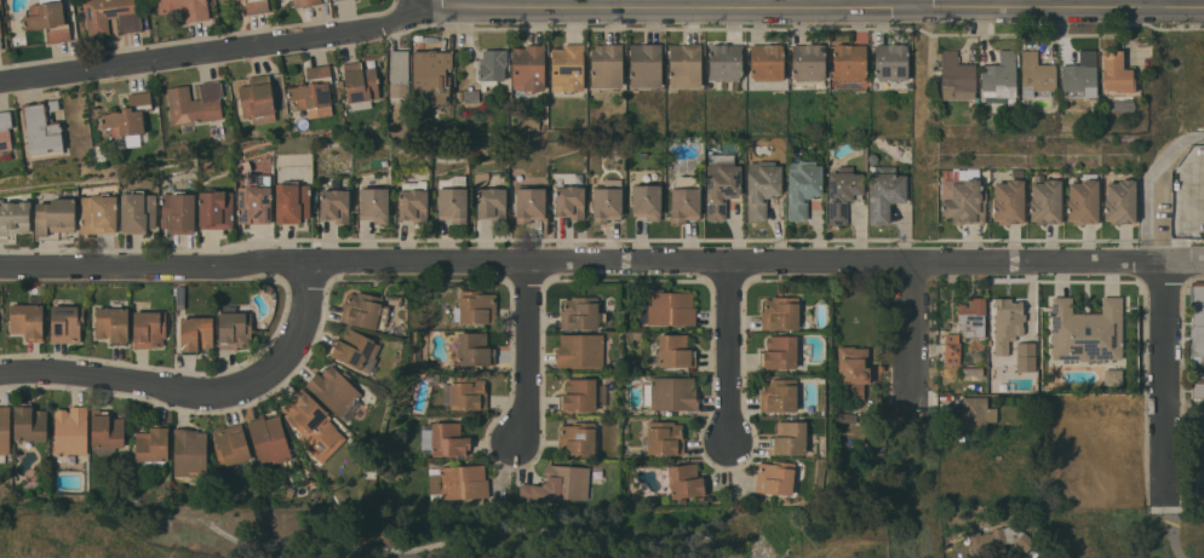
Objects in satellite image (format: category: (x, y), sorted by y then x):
building: (224, 0)
building: (234, 0)
building: (333, 0)
building: (336, 0)
building: (306, 2)
road: (420, 4)
road: (916, 4)
building: (257, 6)
road: (1060, 7)
building: (185, 8)
road: (669, 8)
building: (111, 16)
building: (48, 19)
building: (0, 31)
building: (0, 45)
road: (212, 51)
building: (724, 62)
building: (767, 62)
building: (808, 62)
building: (849, 62)
building: (890, 62)
building: (606, 65)
building: (646, 65)
building: (684, 65)
building: (491, 68)
building: (528, 68)
building: (567, 68)
building: (1116, 73)
building: (399, 74)
building: (1036, 74)
building: (432, 75)
building: (1079, 75)
building: (956, 76)
building: (999, 76)
building: (360, 85)
building: (313, 93)
building: (470, 96)
building: (257, 99)
building: (197, 107)
building: (128, 117)
building: (42, 128)
building: (5, 134)
building: (816, 148)
building: (873, 157)
building: (1017, 173)
building: (481, 178)
building: (721, 183)
road: (1146, 184)
building: (803, 185)
building: (762, 188)
building: (843, 192)
building: (884, 192)
building: (253, 196)
building: (452, 199)
building: (964, 199)
building: (684, 200)
building: (1083, 200)
building: (413, 201)
building: (569, 201)
building: (646, 201)
building: (1119, 201)
building: (291, 202)
building: (1008, 202)
building: (1045, 202)
building: (491, 203)
building: (529, 203)
building: (606, 203)
building: (334, 205)
building: (373, 205)
building: (216, 209)
building: (137, 212)
building: (178, 212)
building: (98, 214)
building: (13, 218)
building: (55, 218)
road: (1188, 264)
road: (586, 265)
building: (179, 301)
building: (476, 307)
building: (670, 307)
building: (365, 310)
building: (580, 312)
building: (780, 312)
building: (1197, 316)
building: (971, 317)
building: (27, 318)
building: (65, 323)
building: (1007, 323)
building: (113, 324)
building: (149, 328)
building: (234, 328)
building: (1087, 330)
building: (195, 334)
road: (913, 335)
building: (474, 349)
building: (952, 349)
building: (355, 350)
building: (580, 350)
building: (676, 351)
building: (780, 352)
road: (526, 353)
road: (730, 355)
building: (1026, 356)
building: (1009, 367)
building: (1198, 368)
building: (853, 370)
building: (970, 370)
building: (1113, 376)
road: (1163, 376)
building: (1026, 389)
building: (1198, 390)
building: (336, 391)
building: (465, 392)
building: (671, 393)
building: (779, 395)
road: (195, 396)
building: (581, 396)
building: (973, 414)
building: (847, 418)
building: (29, 422)
building: (313, 425)
building: (849, 427)
building: (4, 431)
building: (105, 432)
building: (70, 435)
building: (577, 437)
building: (664, 437)
building: (443, 438)
building: (789, 438)
building: (269, 439)
building: (230, 444)
building: (151, 447)
building: (189, 451)
building: (775, 477)
building: (686, 481)
building: (459, 482)
building: (557, 484)
building: (699, 499)
park: (1119, 530)
road: (1175, 539)
building: (998, 540)

